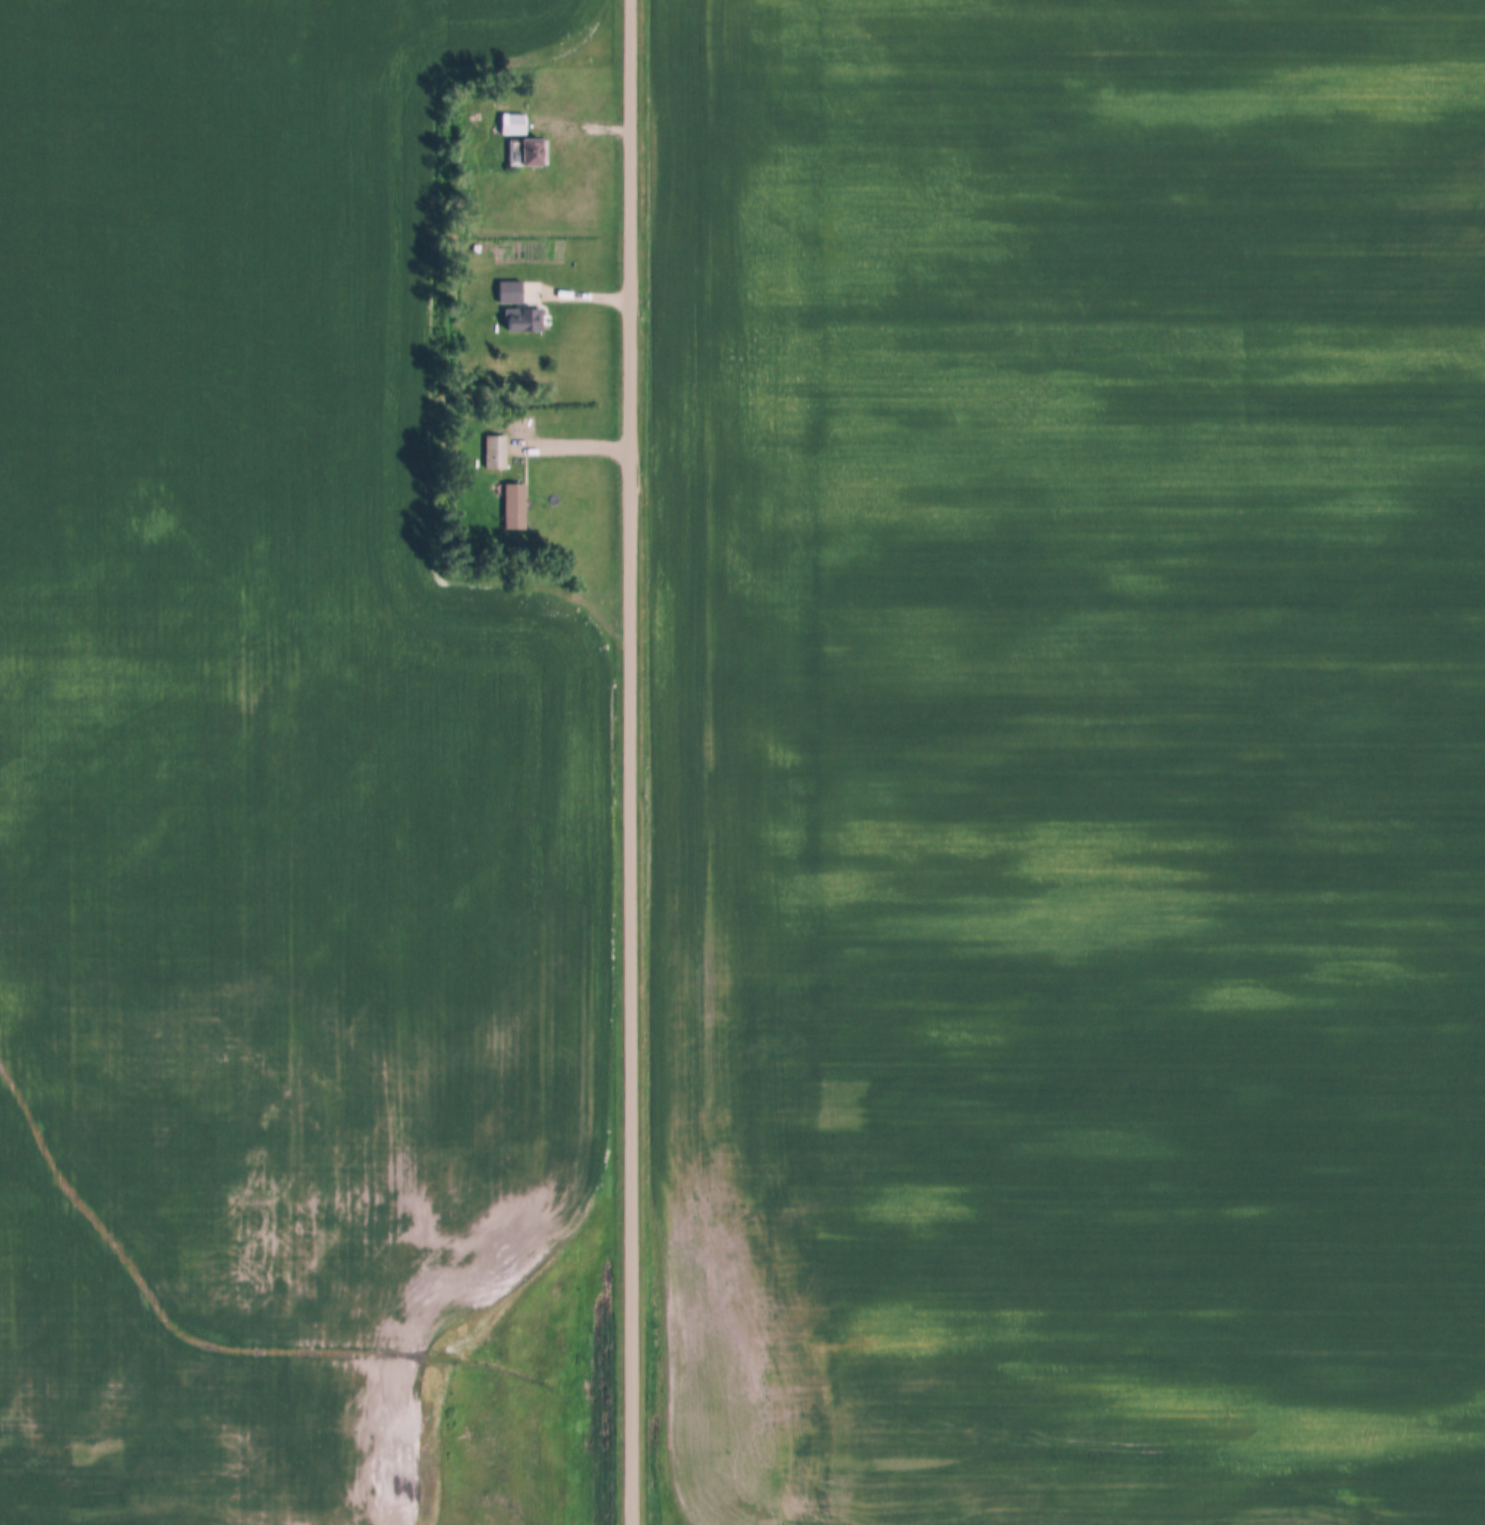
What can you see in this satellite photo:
building: (515, 123)
building: (511, 291)
building: (522, 318)
building: (496, 451)
building: (515, 505)
road: (631, 762)

